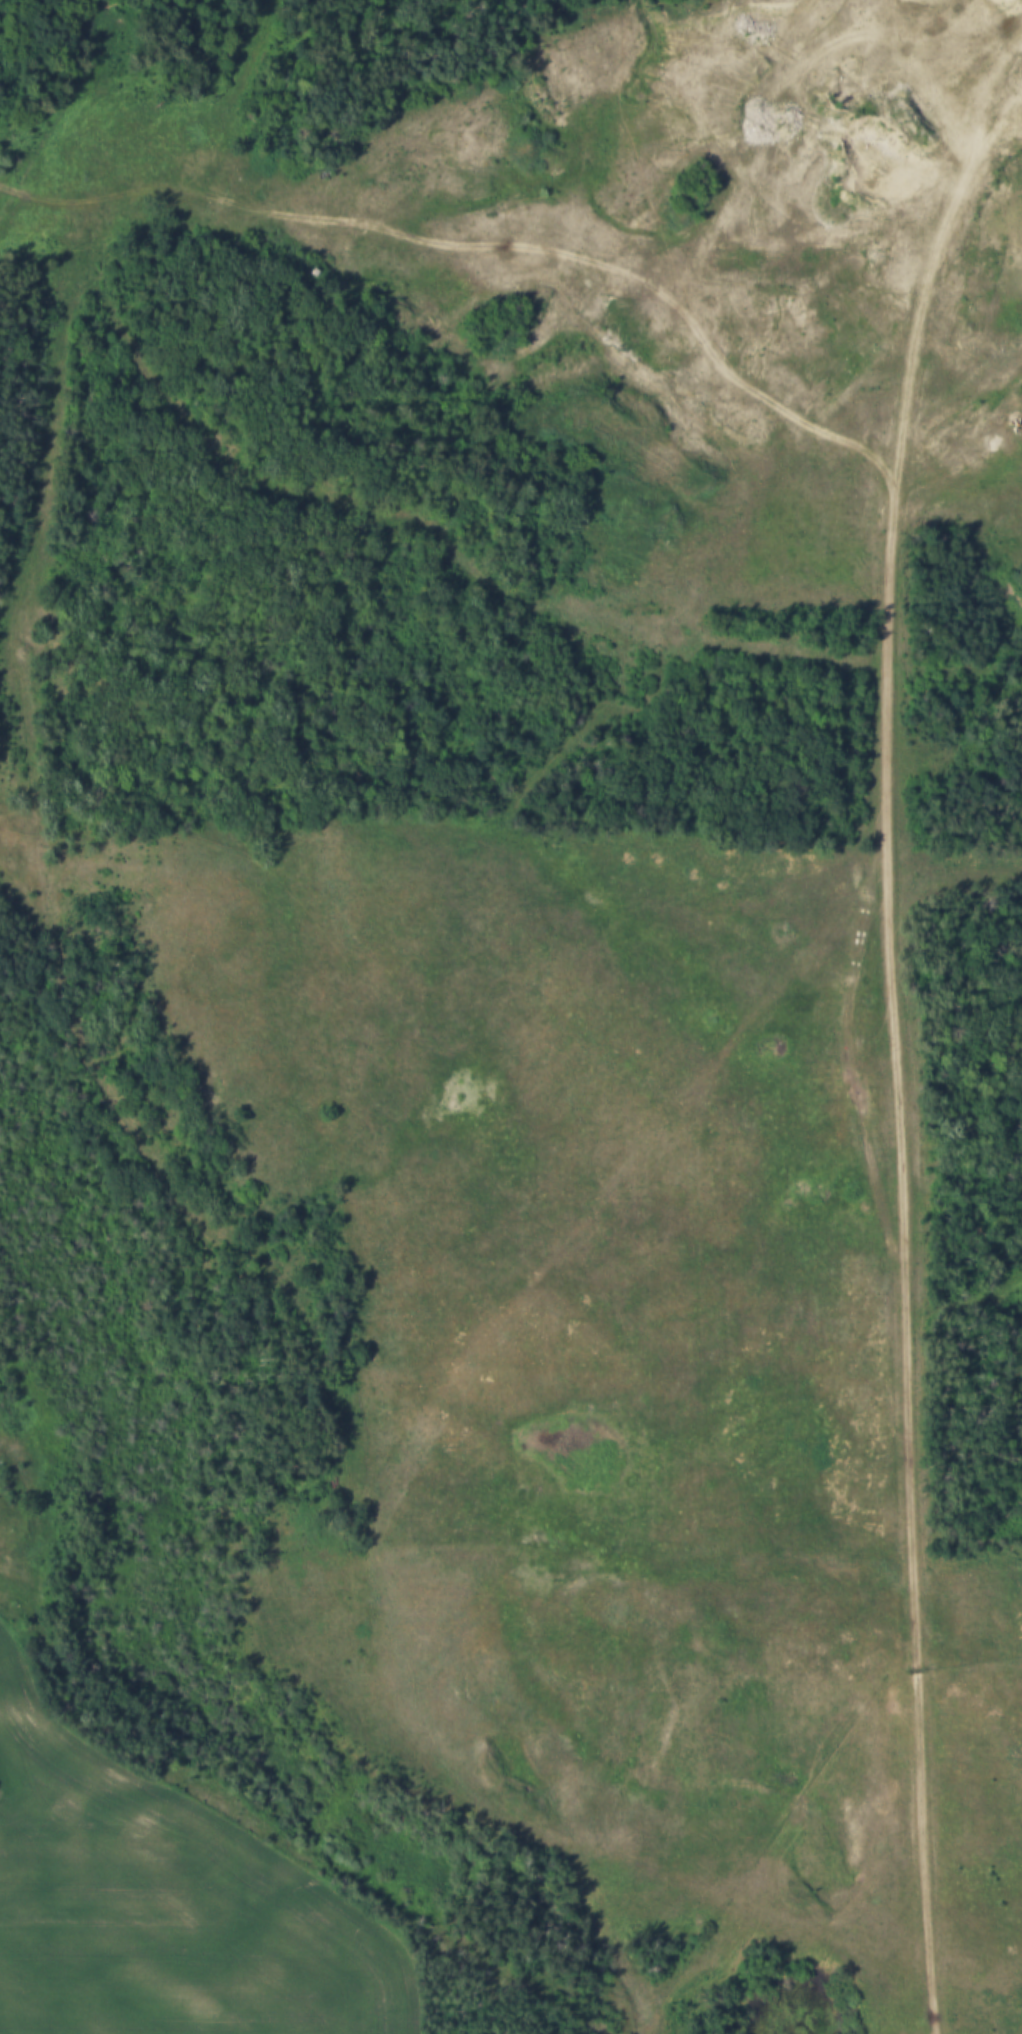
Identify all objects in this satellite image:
road: (45, 198)
quarry: (725, 236)
road: (901, 1054)
road: (161, 1178)

